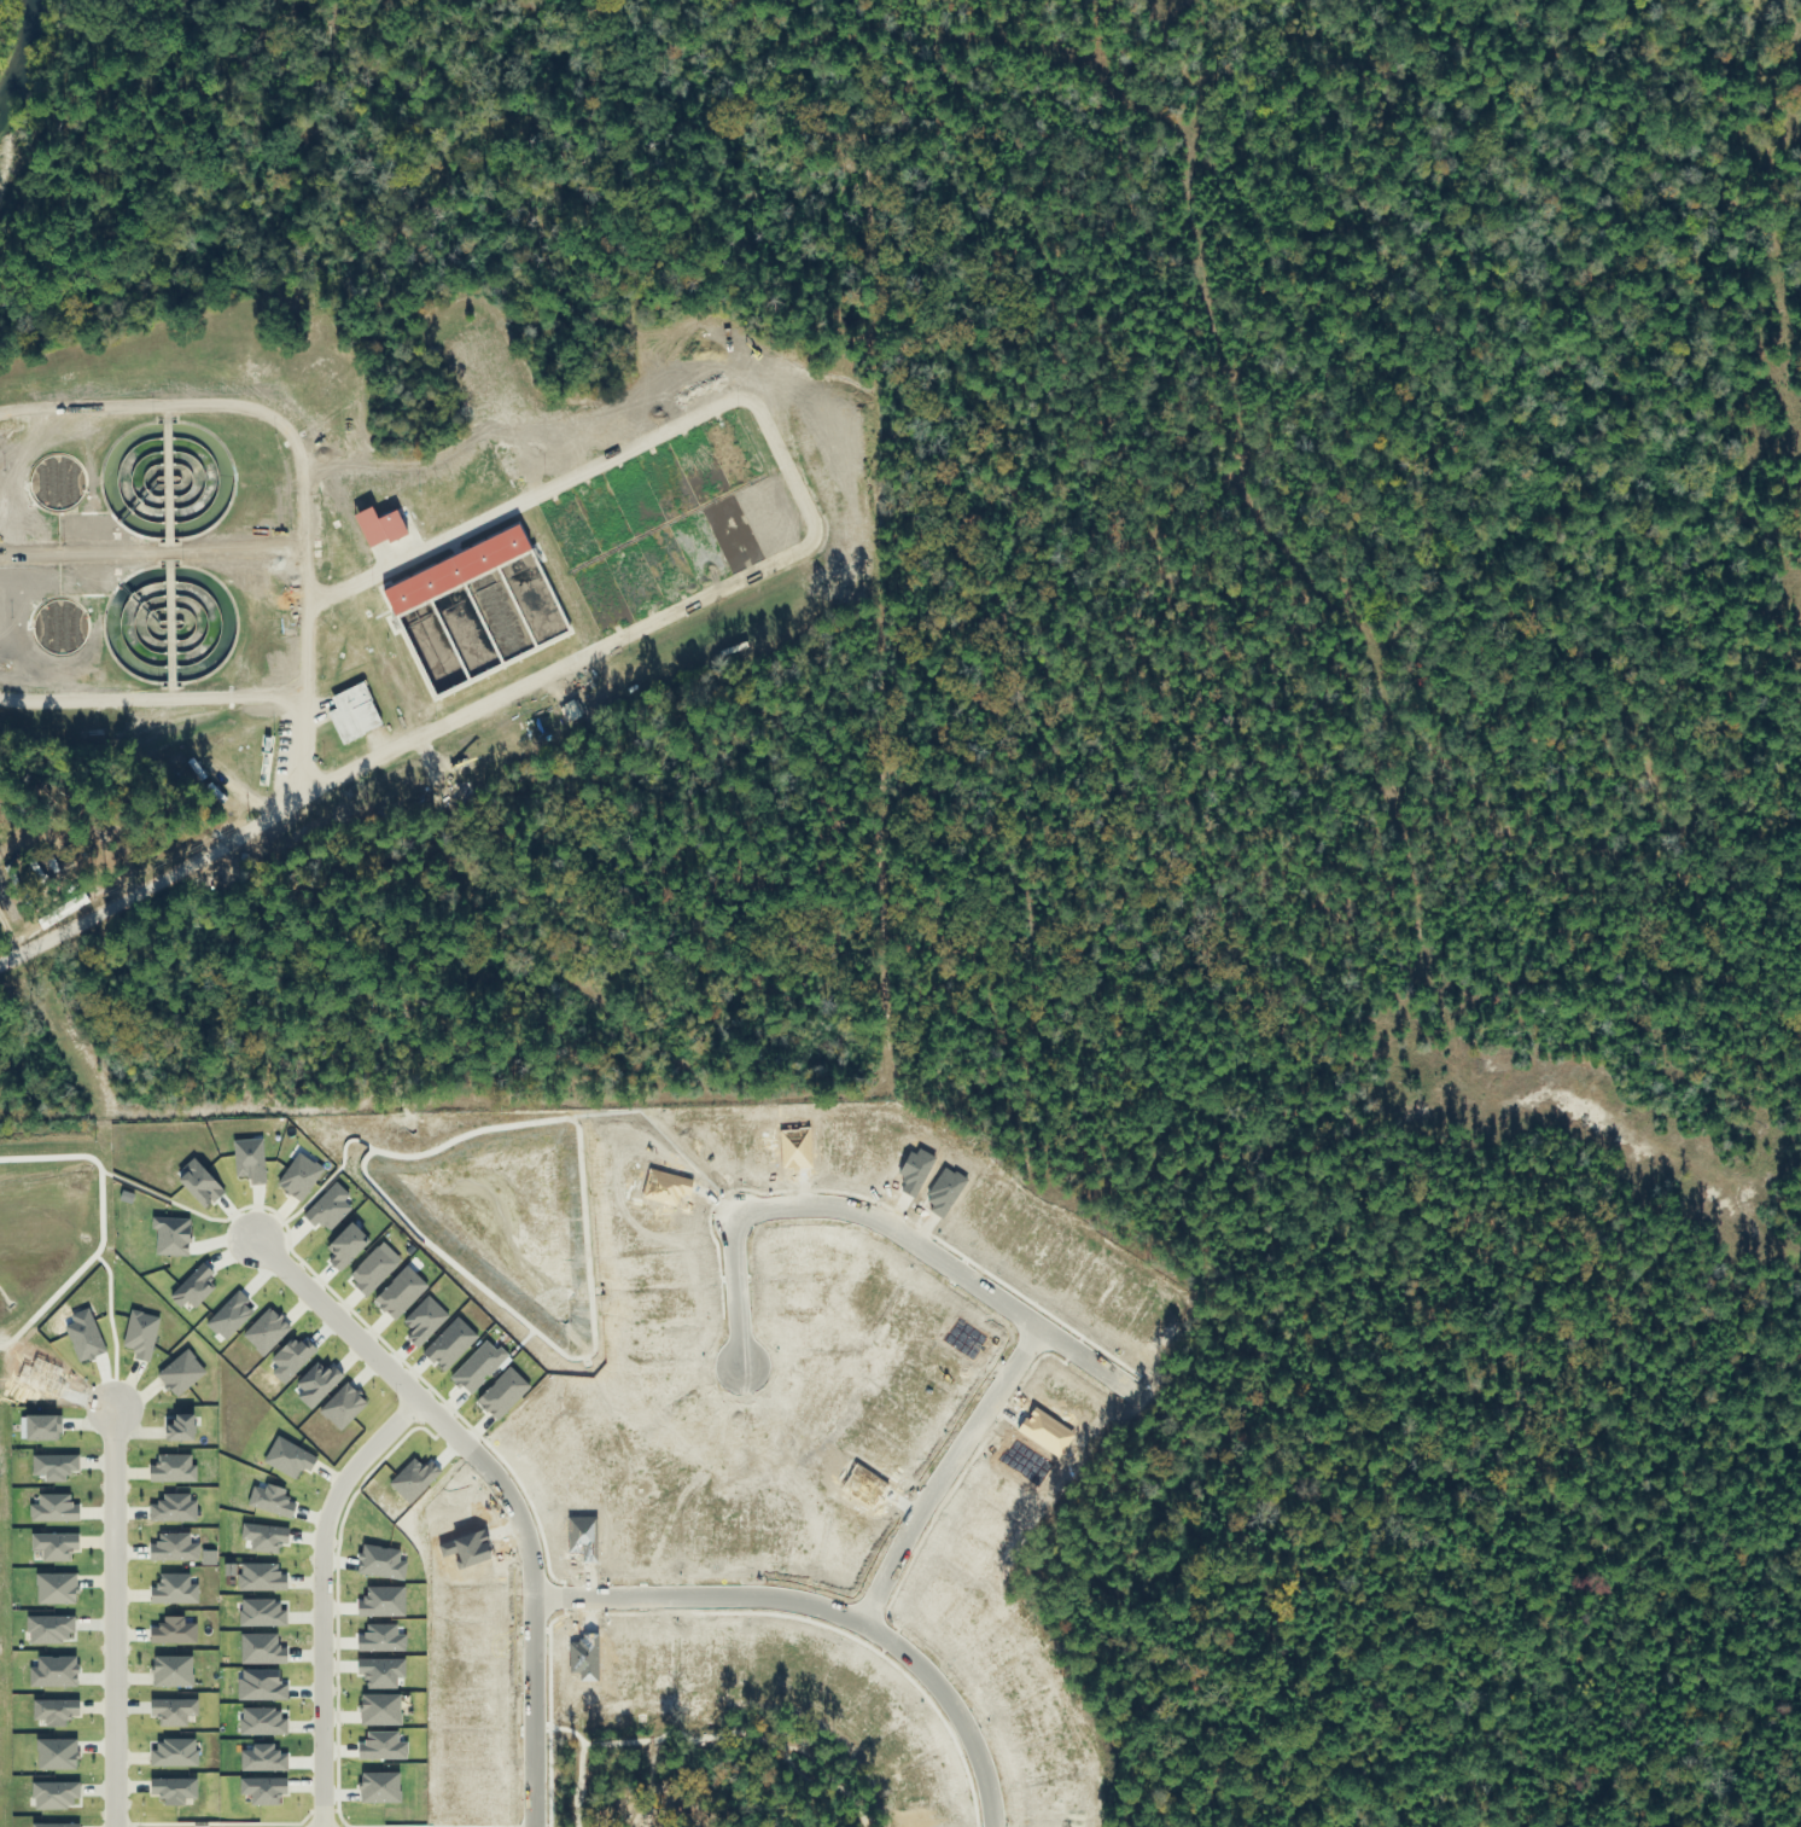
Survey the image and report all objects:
road: (803, 504)
road: (151, 557)
road: (303, 566)
building: (563, 606)
building: (355, 714)
road: (301, 745)
road: (148, 878)
road: (344, 1482)
road: (107, 1617)

